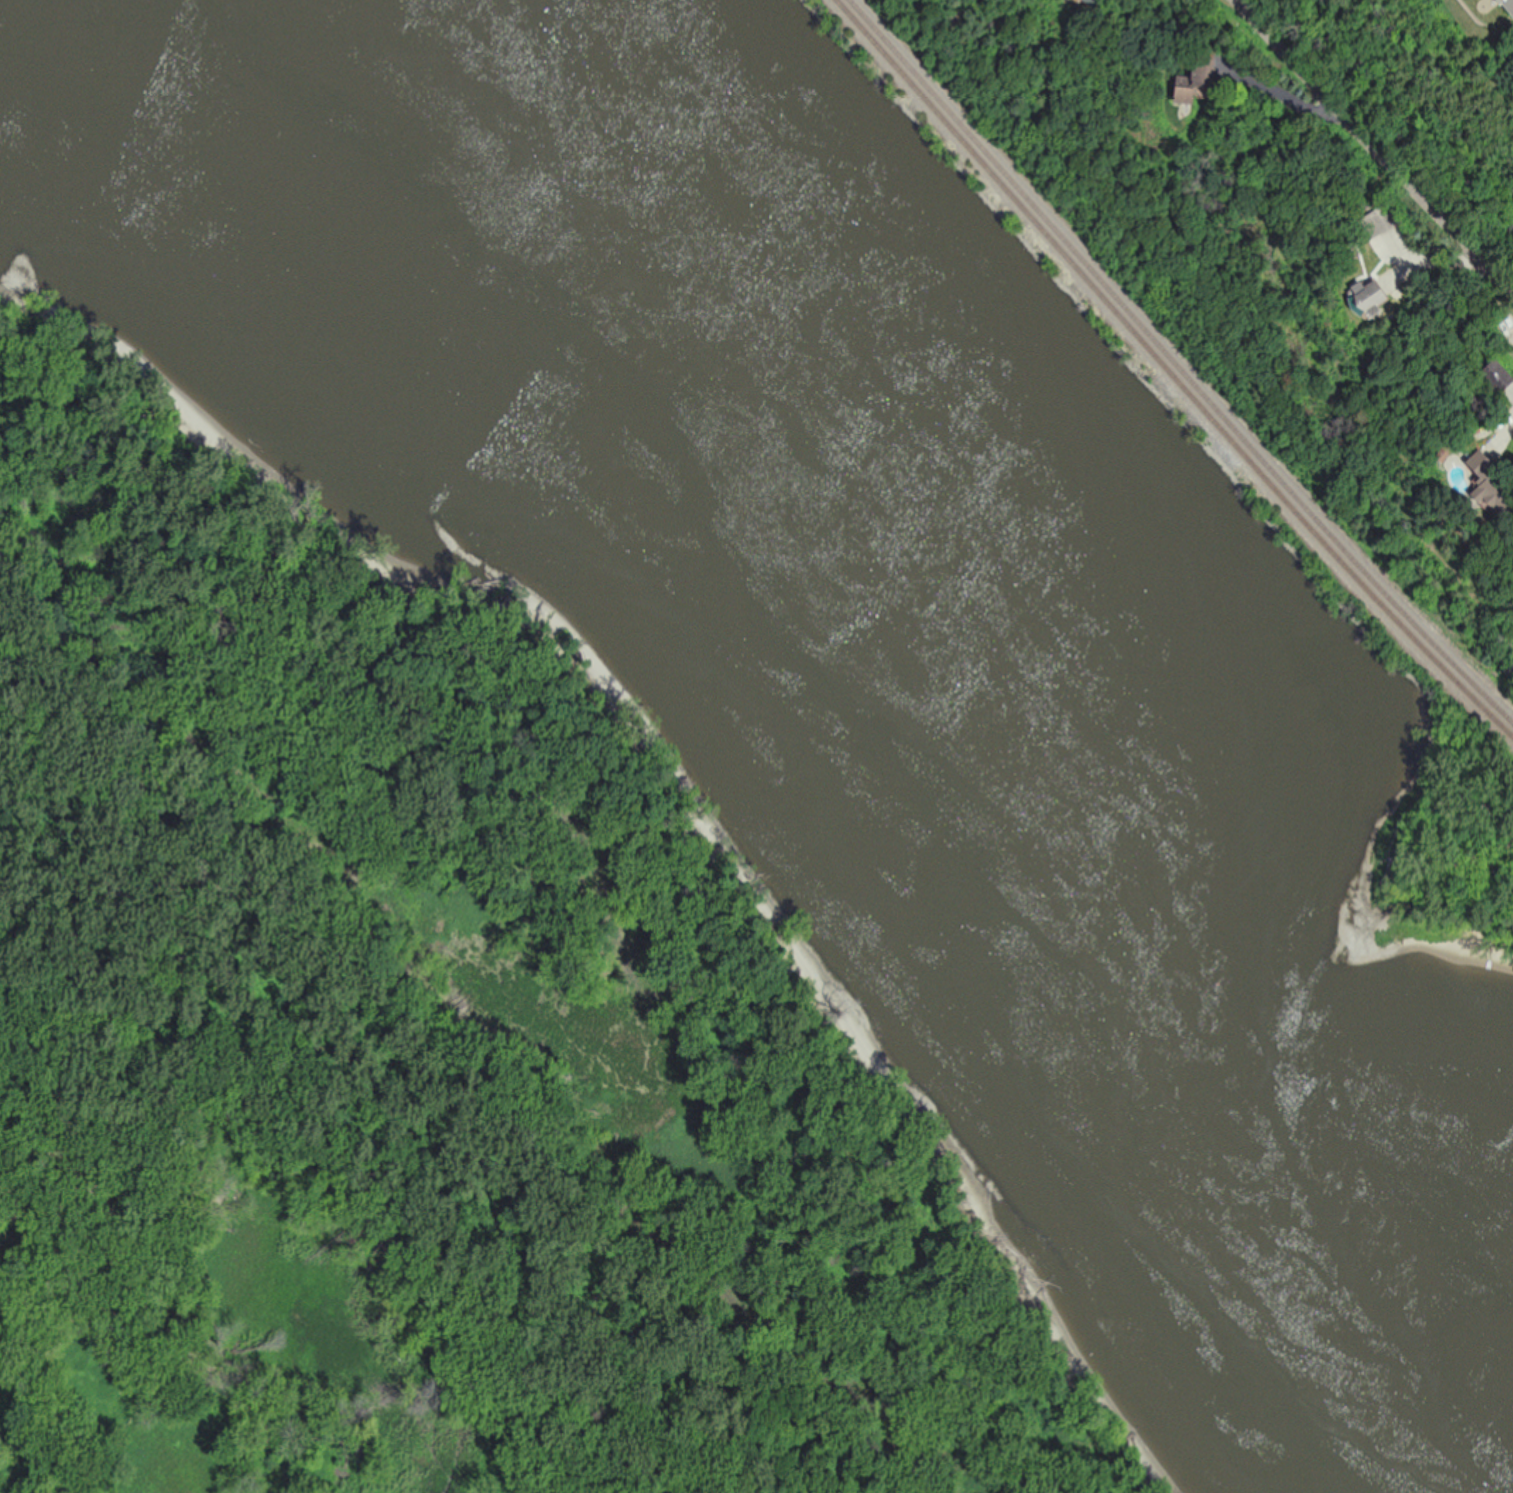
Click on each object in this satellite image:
building: (1511, 1)
building: (1095, 3)
building: (1200, 82)
river: (476, 130)
road: (1373, 145)
building: (1382, 221)
building: (1377, 302)
railway: (1178, 364)
railway: (1171, 371)
building: (1498, 378)
building: (1494, 494)
river: (1045, 792)
river: (566, 1075)

